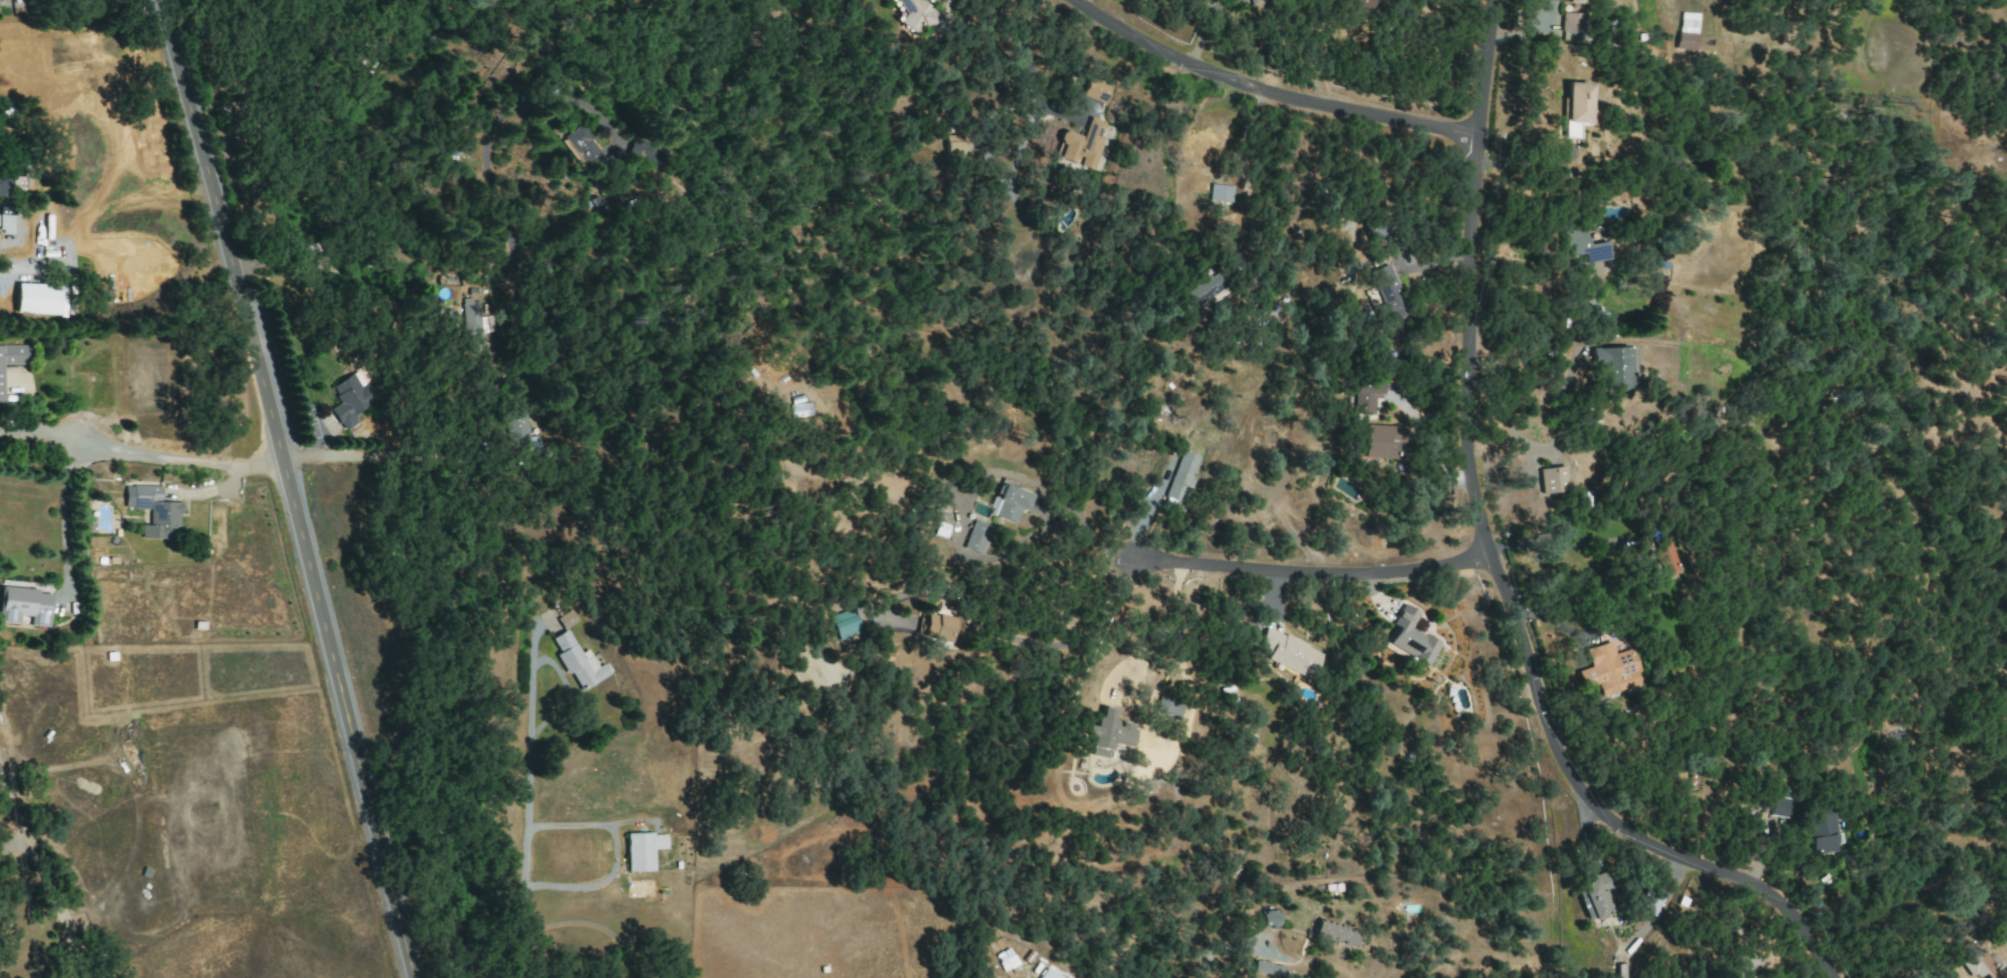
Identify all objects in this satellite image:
building: (1578, 1)
building: (919, 15)
building: (1572, 27)
building: (1686, 31)
road: (1029, 61)
building: (1095, 91)
road: (1273, 97)
building: (1572, 107)
building: (1082, 144)
building: (956, 146)
building: (575, 152)
building: (635, 152)
building: (3, 186)
building: (1219, 193)
road: (1245, 196)
building: (5, 220)
building: (1579, 246)
road: (33, 264)
building: (1195, 290)
building: (1387, 292)
building: (36, 299)
road: (514, 353)
building: (12, 358)
building: (1612, 368)
building: (1365, 397)
building: (351, 399)
building: (790, 409)
building: (528, 428)
road: (39, 436)
building: (1381, 441)
road: (1539, 456)
road: (182, 461)
building: (1180, 477)
building: (1551, 480)
road: (292, 489)
building: (1004, 504)
building: (152, 510)
road: (61, 514)
road: (1087, 533)
building: (975, 537)
road: (1491, 563)
road: (1314, 572)
building: (24, 606)
building: (568, 619)
building: (843, 624)
building: (939, 627)
road: (1164, 628)
building: (1411, 637)
road: (1073, 641)
building: (1289, 653)
building: (577, 661)
building: (1604, 669)
building: (1168, 707)
building: (1106, 733)
road: (4, 761)
building: (1778, 804)
building: (1818, 831)
road: (14, 843)
building: (642, 850)
road: (524, 851)
road: (614, 856)
road: (45, 876)
building: (1594, 897)
building: (1648, 903)
building: (1268, 919)
road: (595, 924)
building: (1334, 932)
road: (1220, 947)
building: (1005, 959)
building: (1980, 965)
building: (1266, 969)
building: (1620, 971)
building: (1052, 973)
building: (2005, 977)

